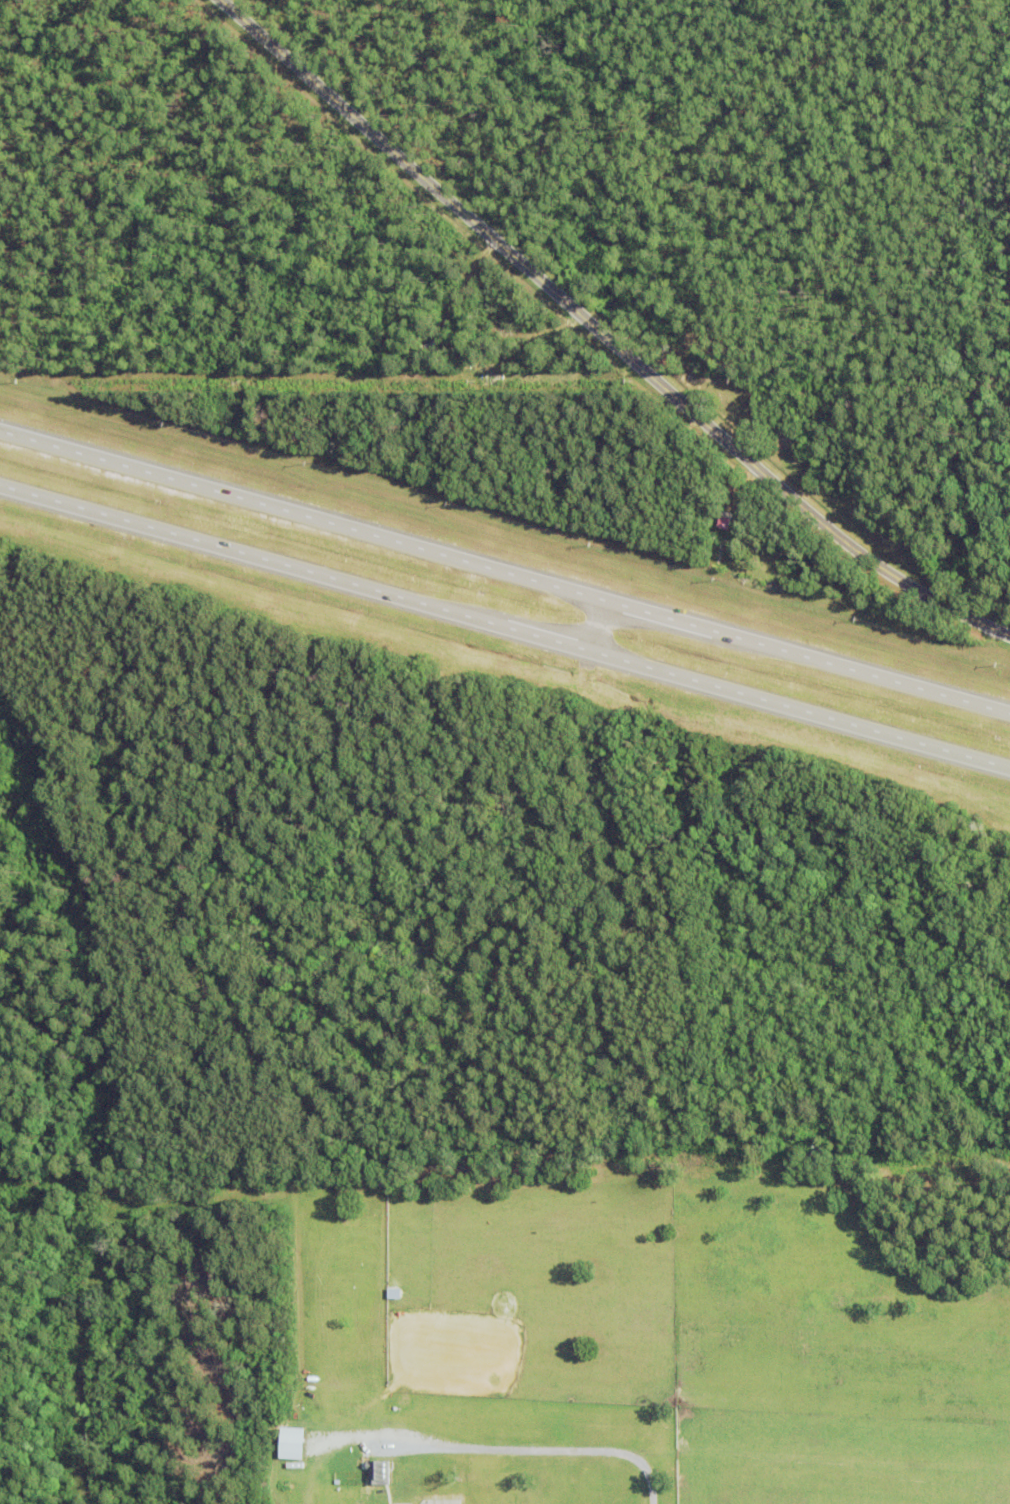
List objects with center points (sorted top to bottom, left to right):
road: (604, 332)
building: (237, 409)
building: (723, 520)
road: (504, 573)
road: (504, 627)
building: (817, 1150)
building: (292, 1442)
road: (543, 1450)
building: (378, 1472)

